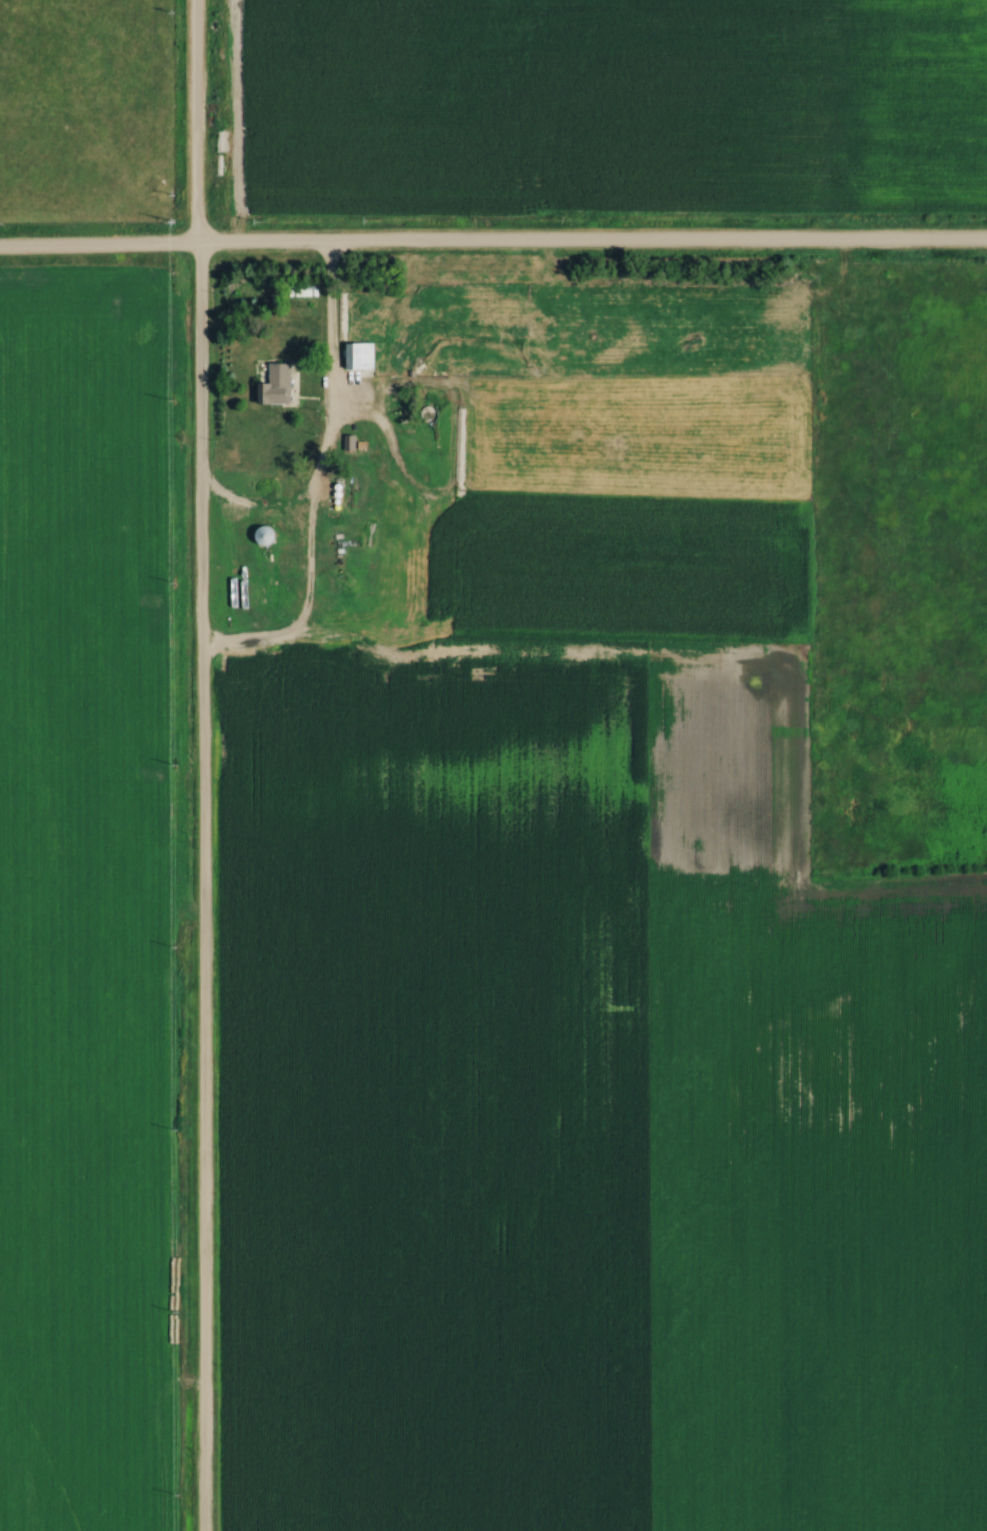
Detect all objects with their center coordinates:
road: (493, 247)
building: (309, 290)
building: (359, 355)
building: (278, 383)
building: (368, 441)
road: (310, 492)
building: (269, 536)
road: (199, 765)

